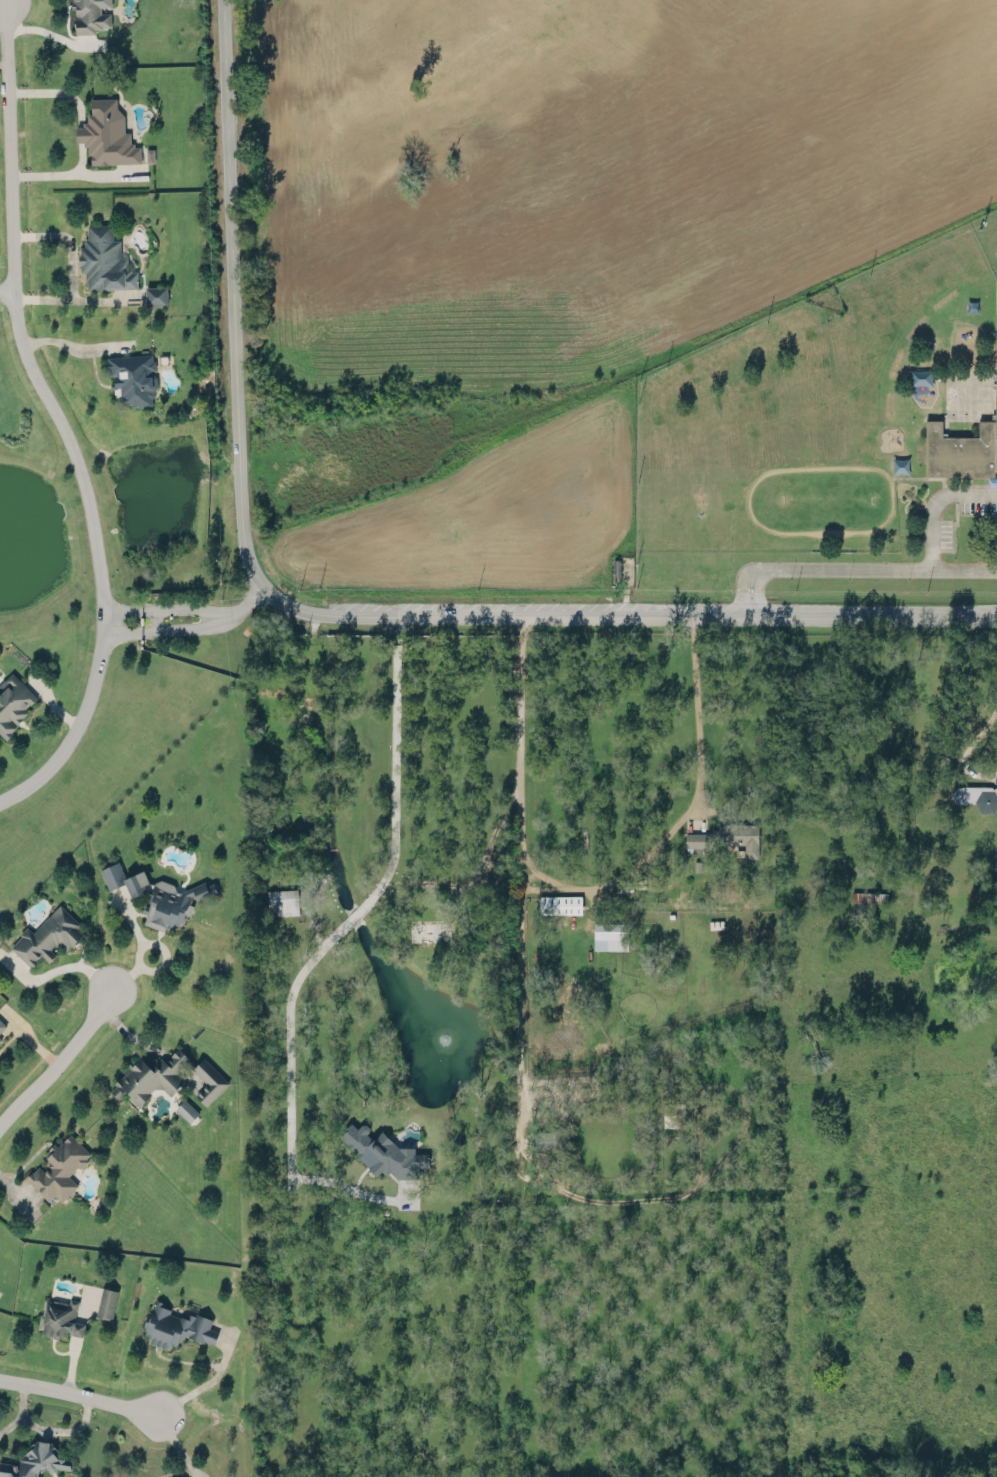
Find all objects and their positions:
road: (2, 3)
road: (6, 3)
road: (1, 4)
building: (91, 15)
building: (107, 134)
road: (72, 174)
building: (105, 260)
road: (6, 286)
building: (156, 295)
road: (68, 344)
building: (134, 378)
road: (57, 421)
building: (963, 448)
road: (936, 501)
road: (817, 566)
building: (616, 567)
road: (965, 568)
road: (332, 613)
road: (209, 617)
road: (123, 622)
building: (13, 701)
road: (967, 749)
road: (520, 757)
building: (976, 794)
road: (689, 810)
building: (726, 838)
road: (480, 872)
building: (124, 878)
building: (282, 902)
building: (173, 903)
building: (560, 904)
road: (358, 910)
building: (47, 935)
building: (610, 936)
road: (64, 967)
road: (519, 1017)
building: (2, 1025)
building: (0, 1037)
building: (1, 1041)
road: (56, 1066)
building: (165, 1076)
building: (187, 1110)
building: (673, 1112)
building: (384, 1153)
building: (60, 1166)
road: (342, 1185)
building: (106, 1300)
building: (60, 1317)
building: (177, 1324)
road: (206, 1381)
road: (77, 1394)
road: (47, 1430)
building: (35, 1461)

